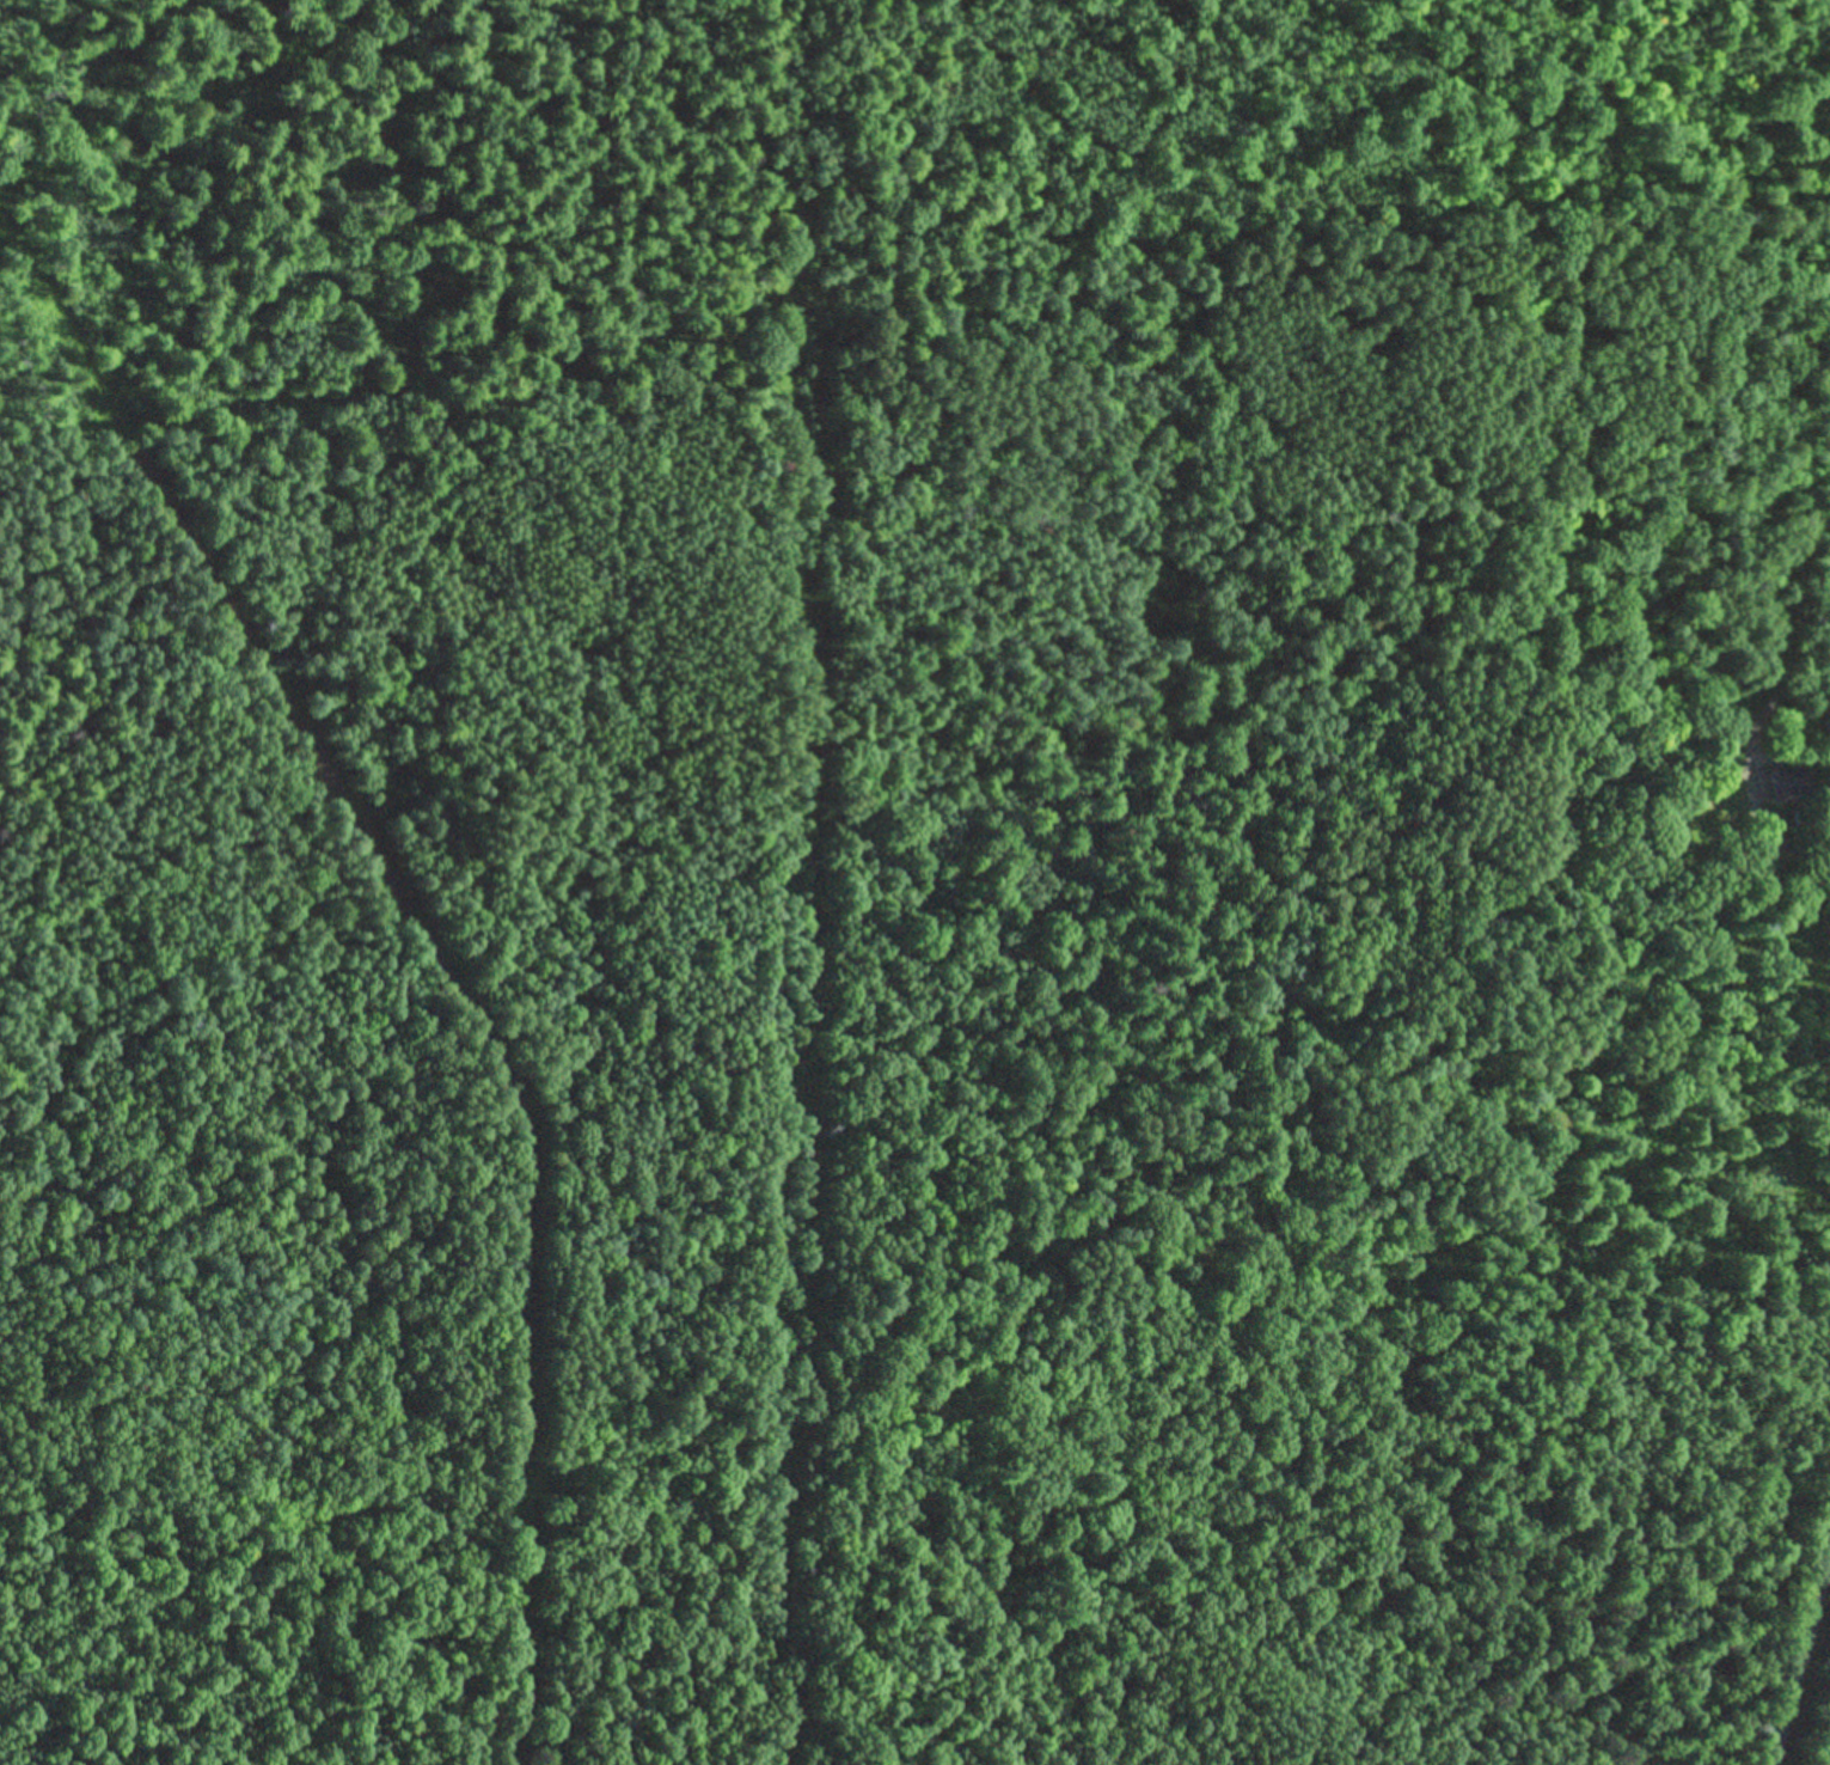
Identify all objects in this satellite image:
building: (1736, 732)
building: (1791, 788)
road: (1801, 1659)

